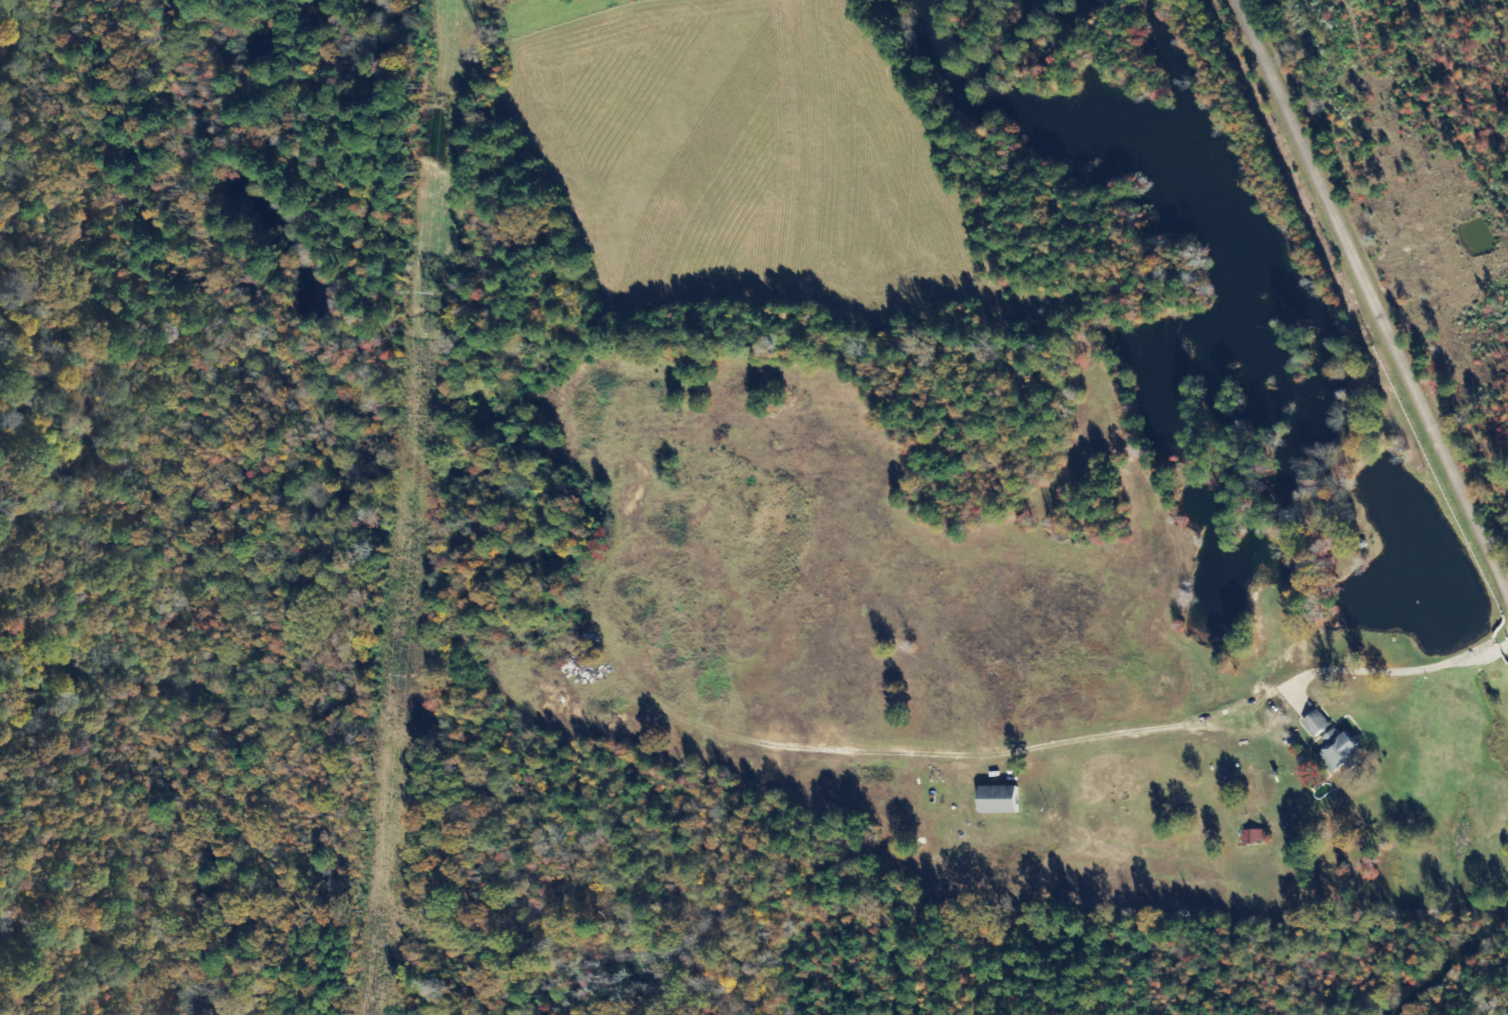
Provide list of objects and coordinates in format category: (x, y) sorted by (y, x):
road: (1375, 289)
building: (1315, 723)
building: (1338, 749)
road: (992, 772)
building: (997, 799)
building: (1253, 836)

